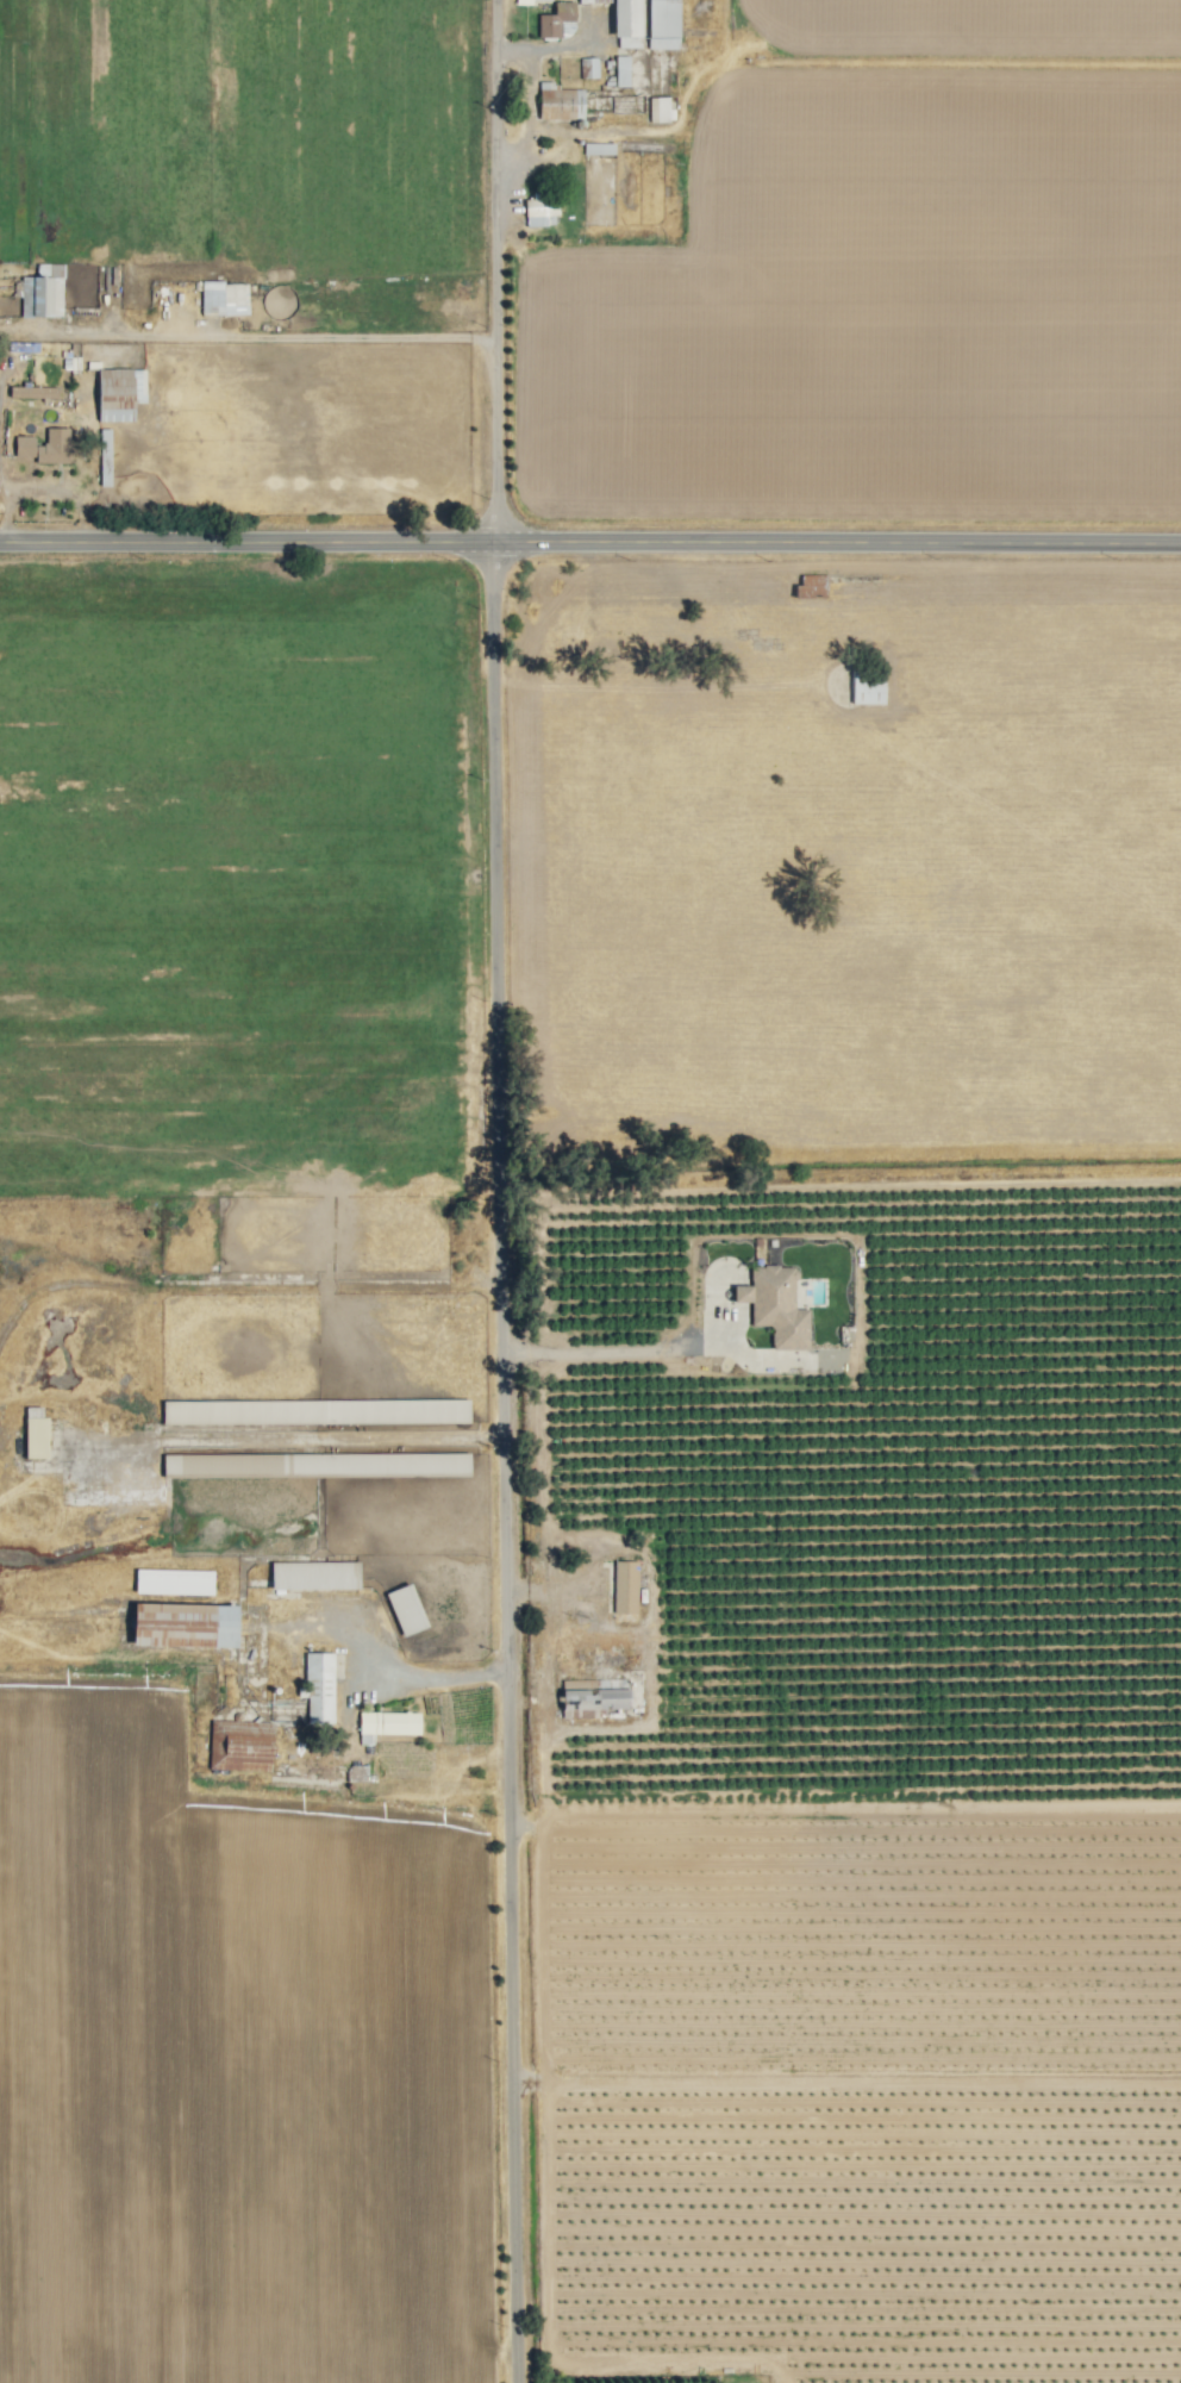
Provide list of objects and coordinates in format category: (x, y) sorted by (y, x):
building: (524, 1)
building: (557, 21)
building: (625, 21)
building: (663, 24)
road: (551, 44)
building: (588, 67)
building: (621, 70)
building: (560, 102)
road: (531, 104)
building: (658, 110)
building: (598, 148)
building: (540, 211)
building: (42, 292)
building: (224, 298)
road: (277, 336)
building: (32, 392)
building: (119, 393)
building: (45, 445)
building: (105, 456)
road: (589, 542)
building: (811, 586)
building: (867, 688)
road: (508, 1191)
building: (775, 1305)
road: (612, 1350)
building: (315, 1411)
building: (36, 1437)
building: (315, 1464)
building: (314, 1576)
building: (174, 1582)
building: (625, 1586)
building: (406, 1609)
building: (185, 1624)
road: (400, 1678)
building: (319, 1688)
building: (593, 1696)
building: (387, 1724)
building: (239, 1745)

